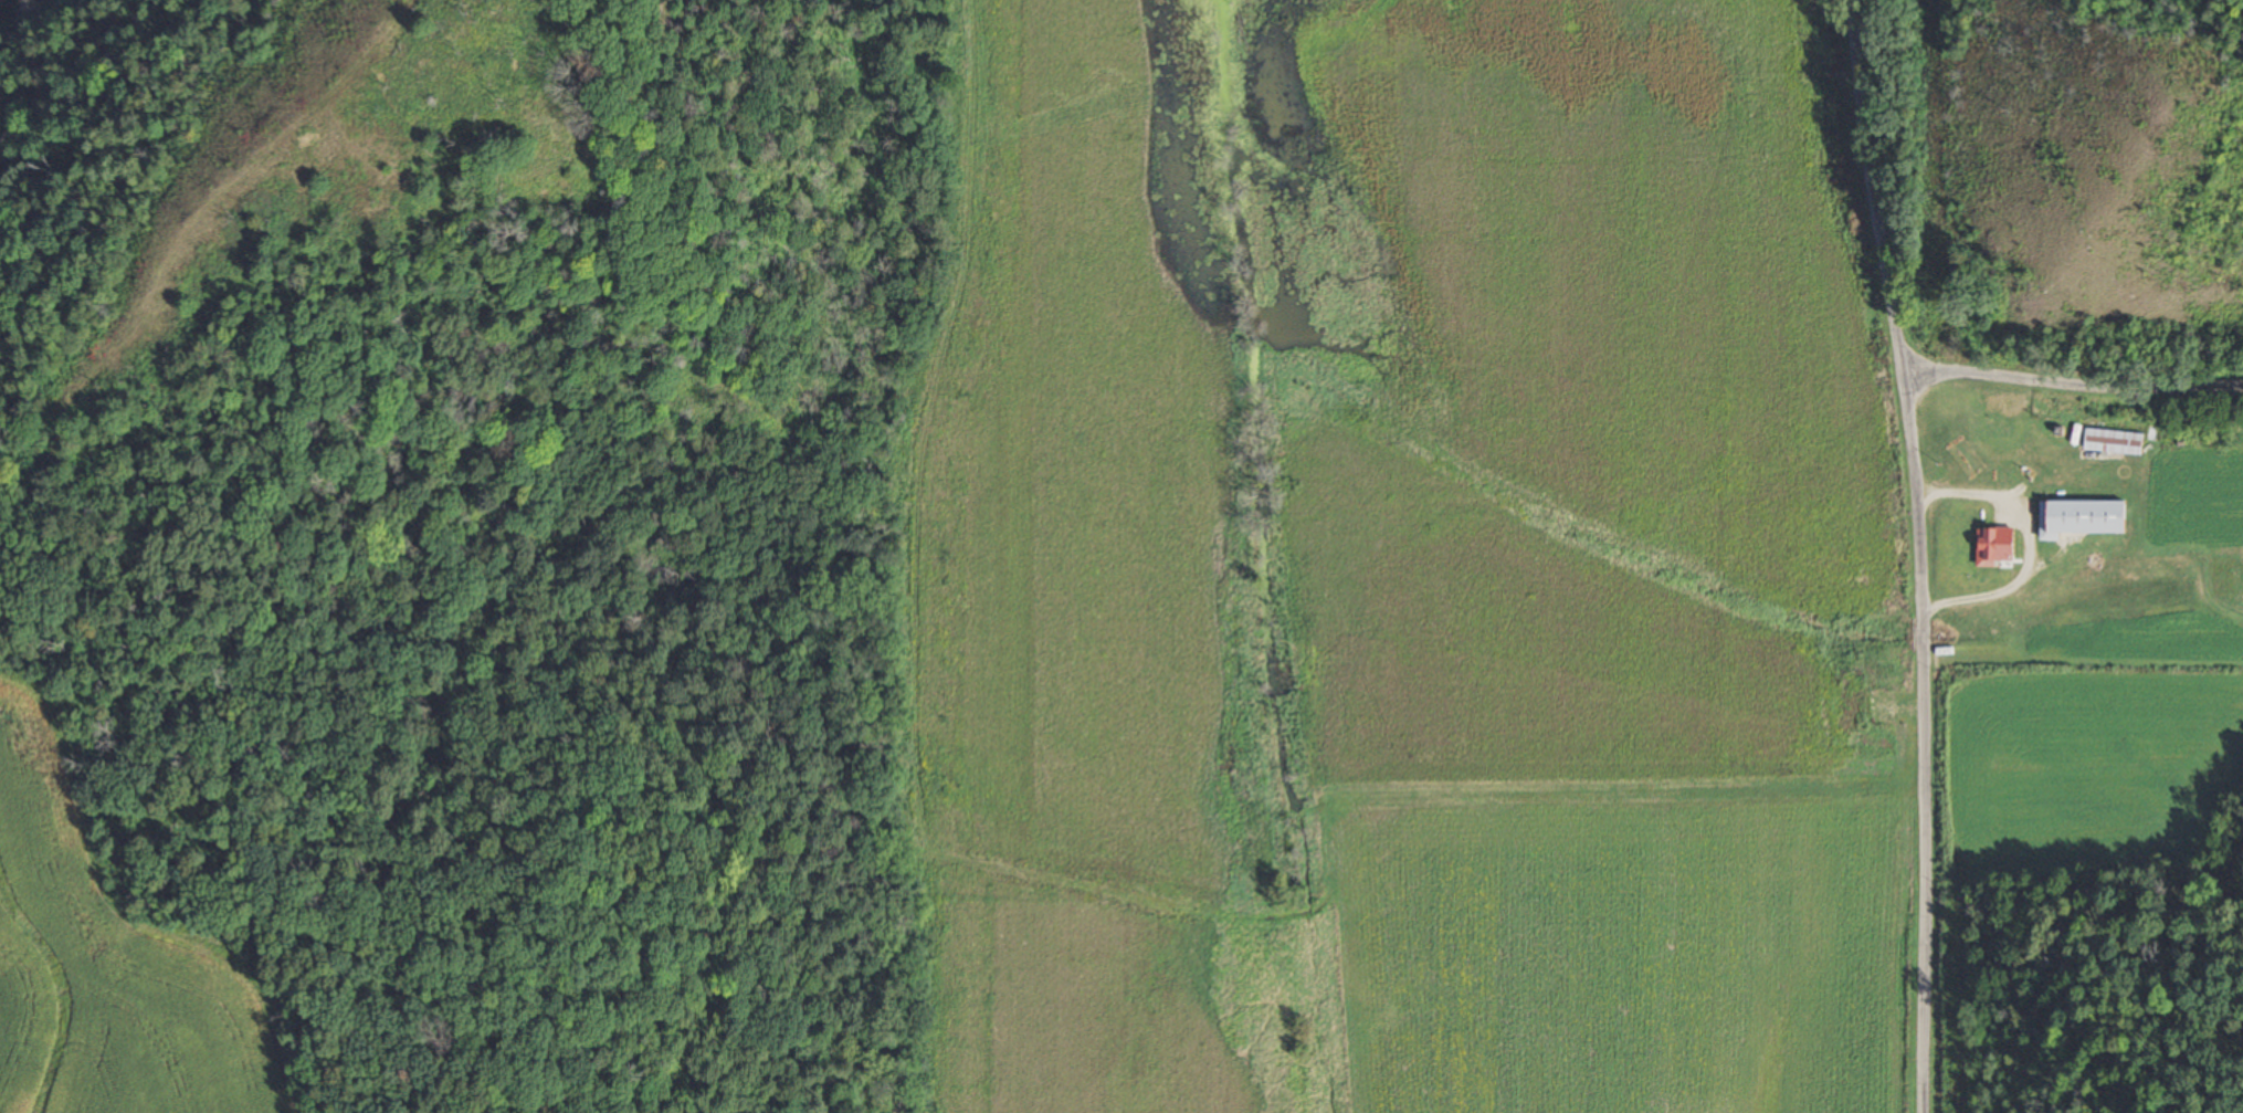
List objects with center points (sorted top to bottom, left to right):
road: (1878, 181)
road: (2073, 381)
building: (1993, 421)
building: (2110, 441)
building: (2081, 517)
building: (1986, 544)
building: (2055, 560)
road: (1920, 737)

